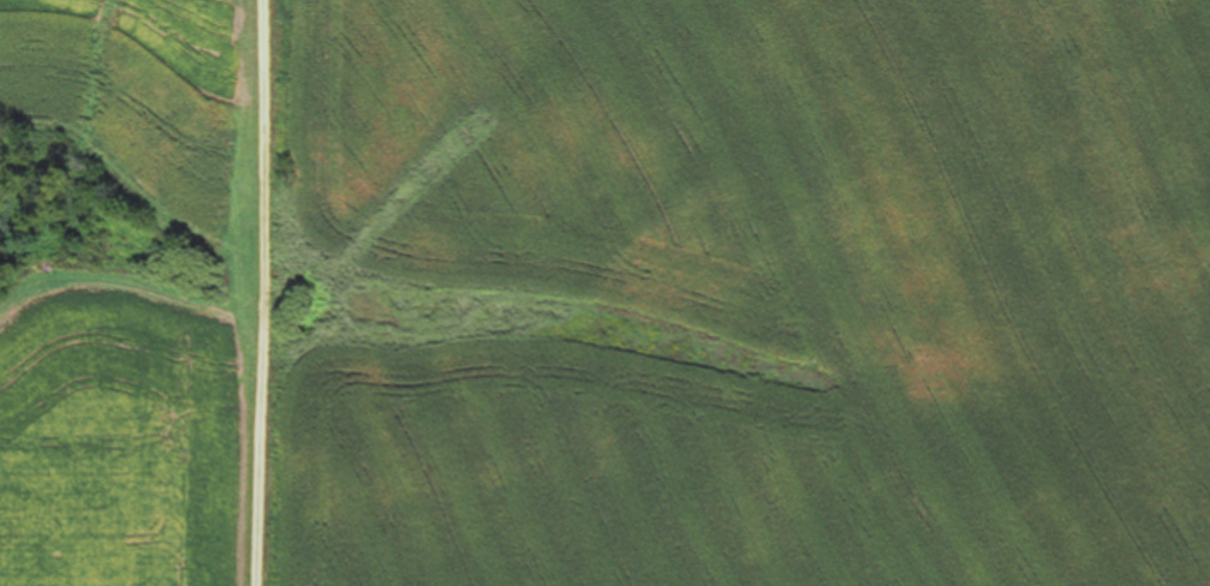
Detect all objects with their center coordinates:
road: (237, 293)

